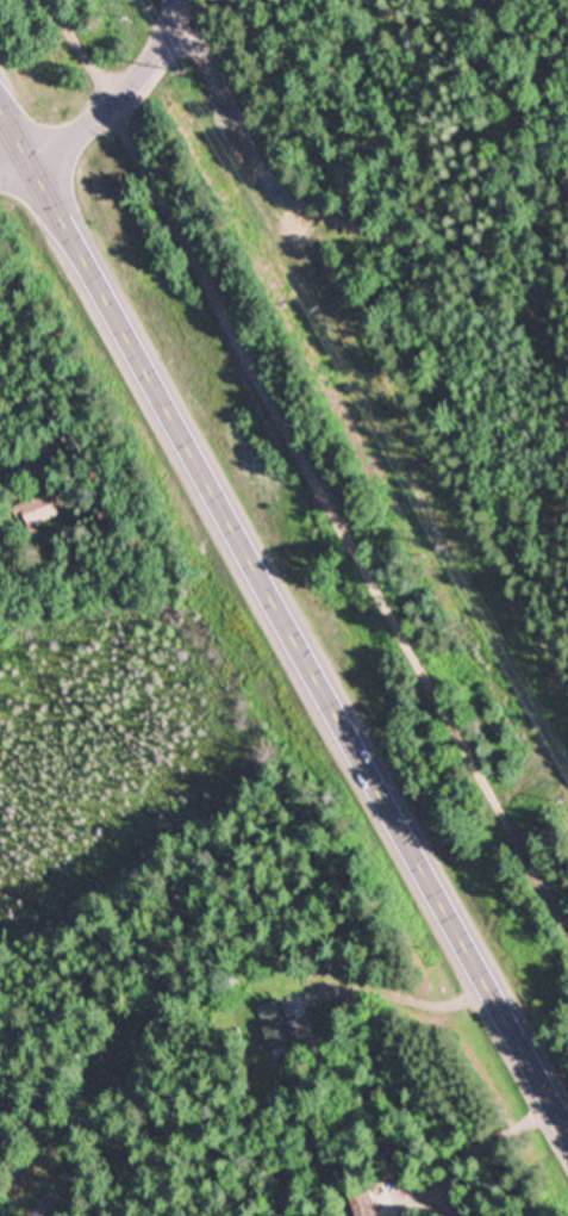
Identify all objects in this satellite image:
road: (125, 94)
road: (17, 166)
road: (323, 209)
building: (54, 448)
road: (304, 467)
building: (40, 509)
road: (282, 609)
building: (279, 1024)
building: (362, 1202)

